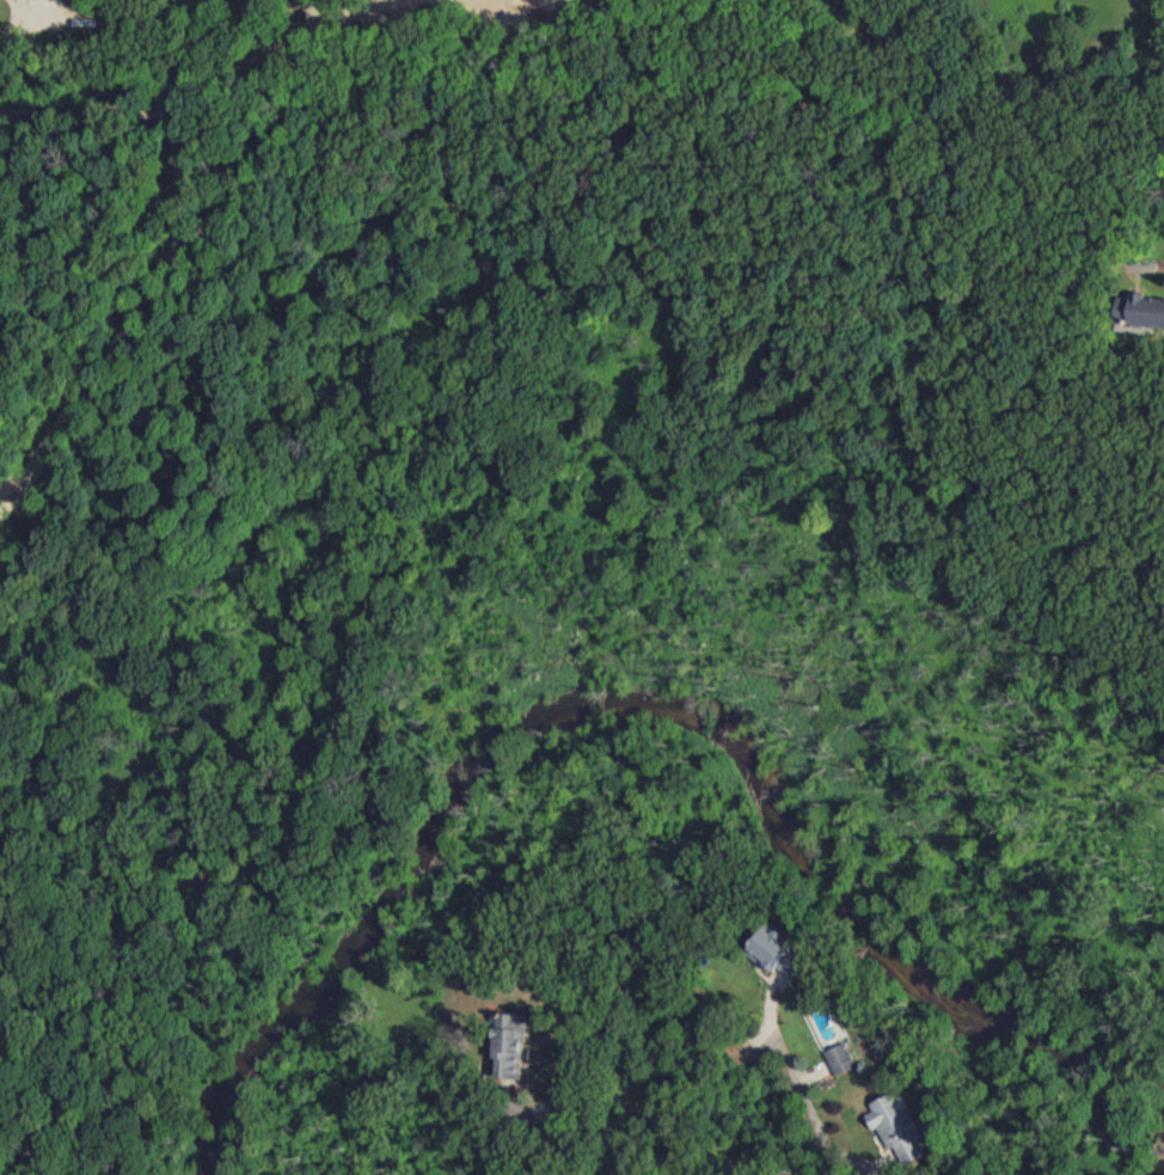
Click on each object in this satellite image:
building: (37, 2)
road: (1122, 191)
building: (1135, 317)
building: (773, 961)
building: (503, 1059)
building: (838, 1064)
road: (808, 1109)
road: (531, 1126)
building: (895, 1133)
road: (688, 1156)

